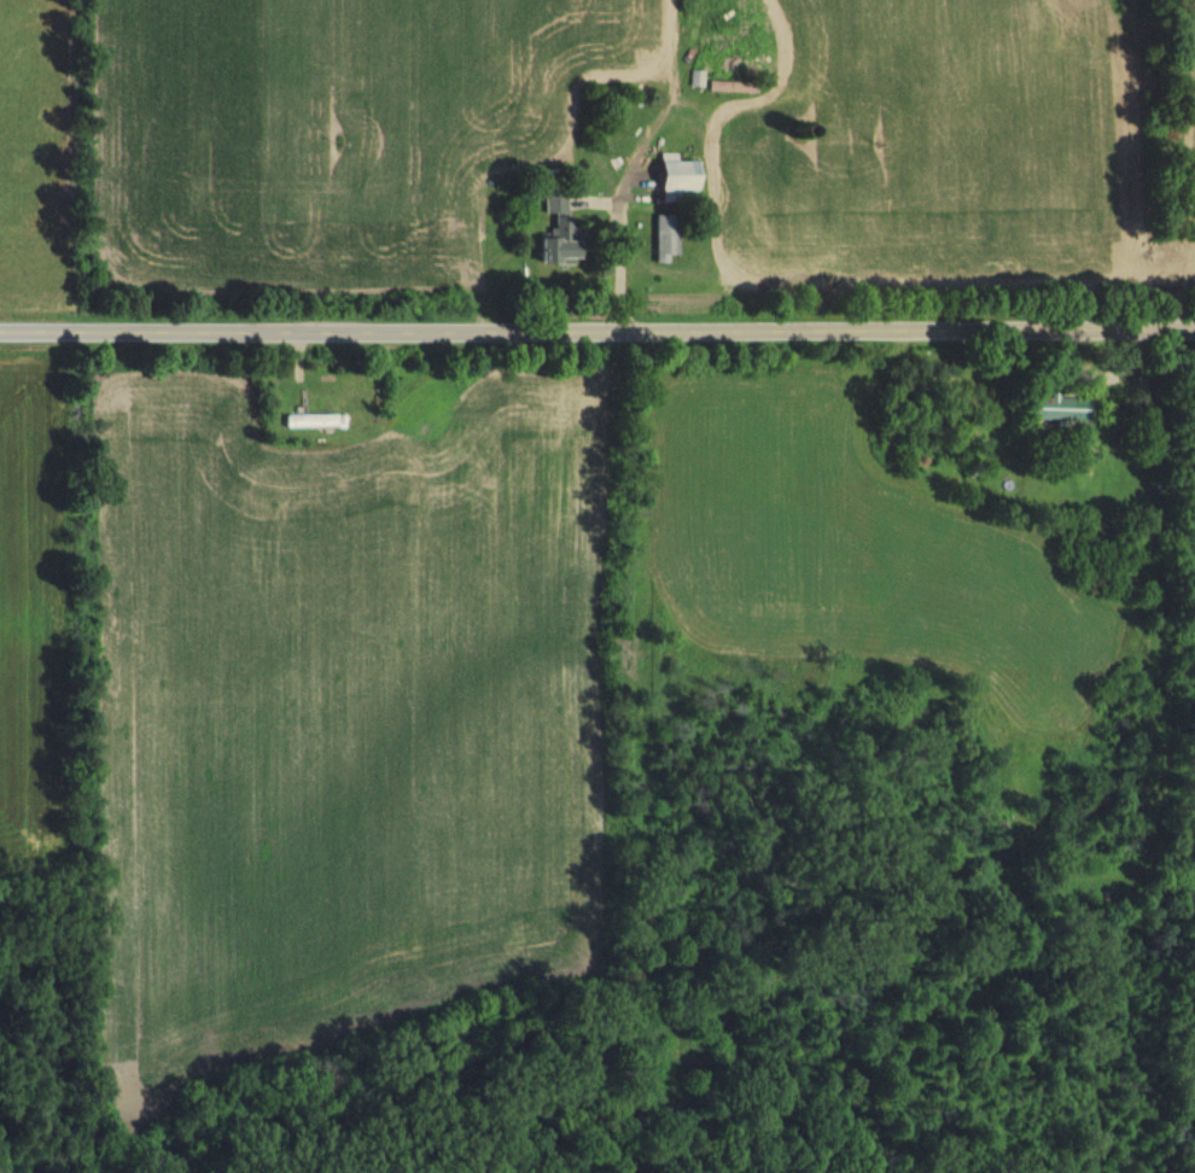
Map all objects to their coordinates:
building: (695, 80)
building: (730, 87)
building: (671, 181)
building: (553, 230)
building: (661, 239)
road: (597, 325)
building: (1053, 409)
building: (311, 422)

